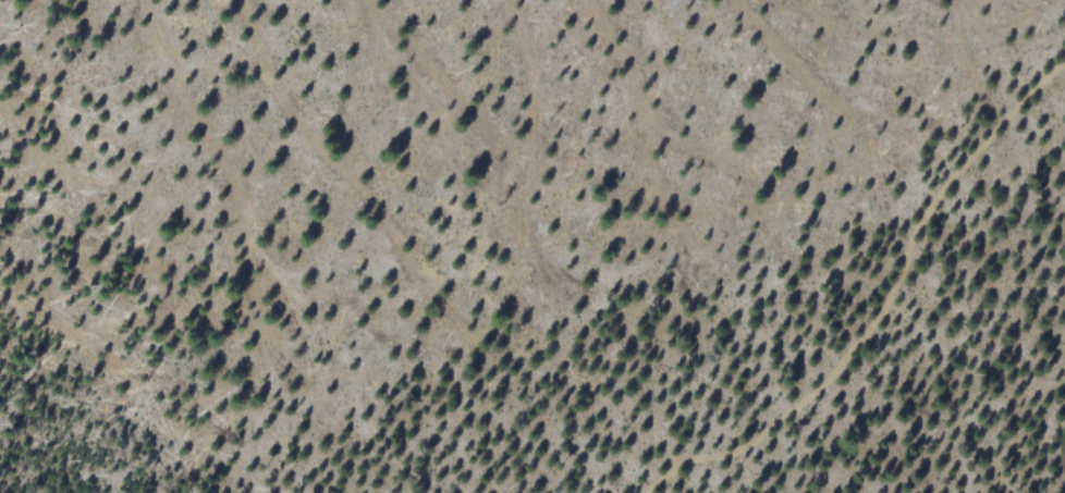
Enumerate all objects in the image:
road: (885, 303)

